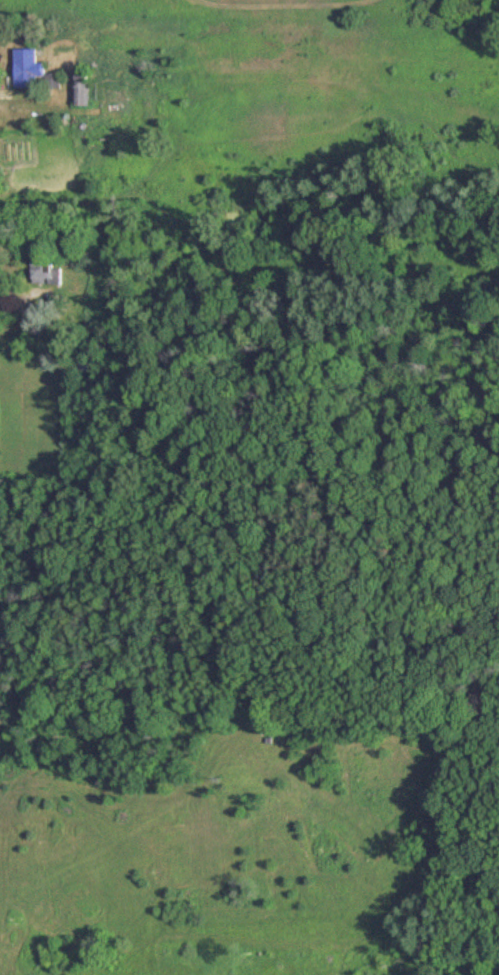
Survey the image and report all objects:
building: (35, 71)
building: (81, 89)
building: (48, 272)

